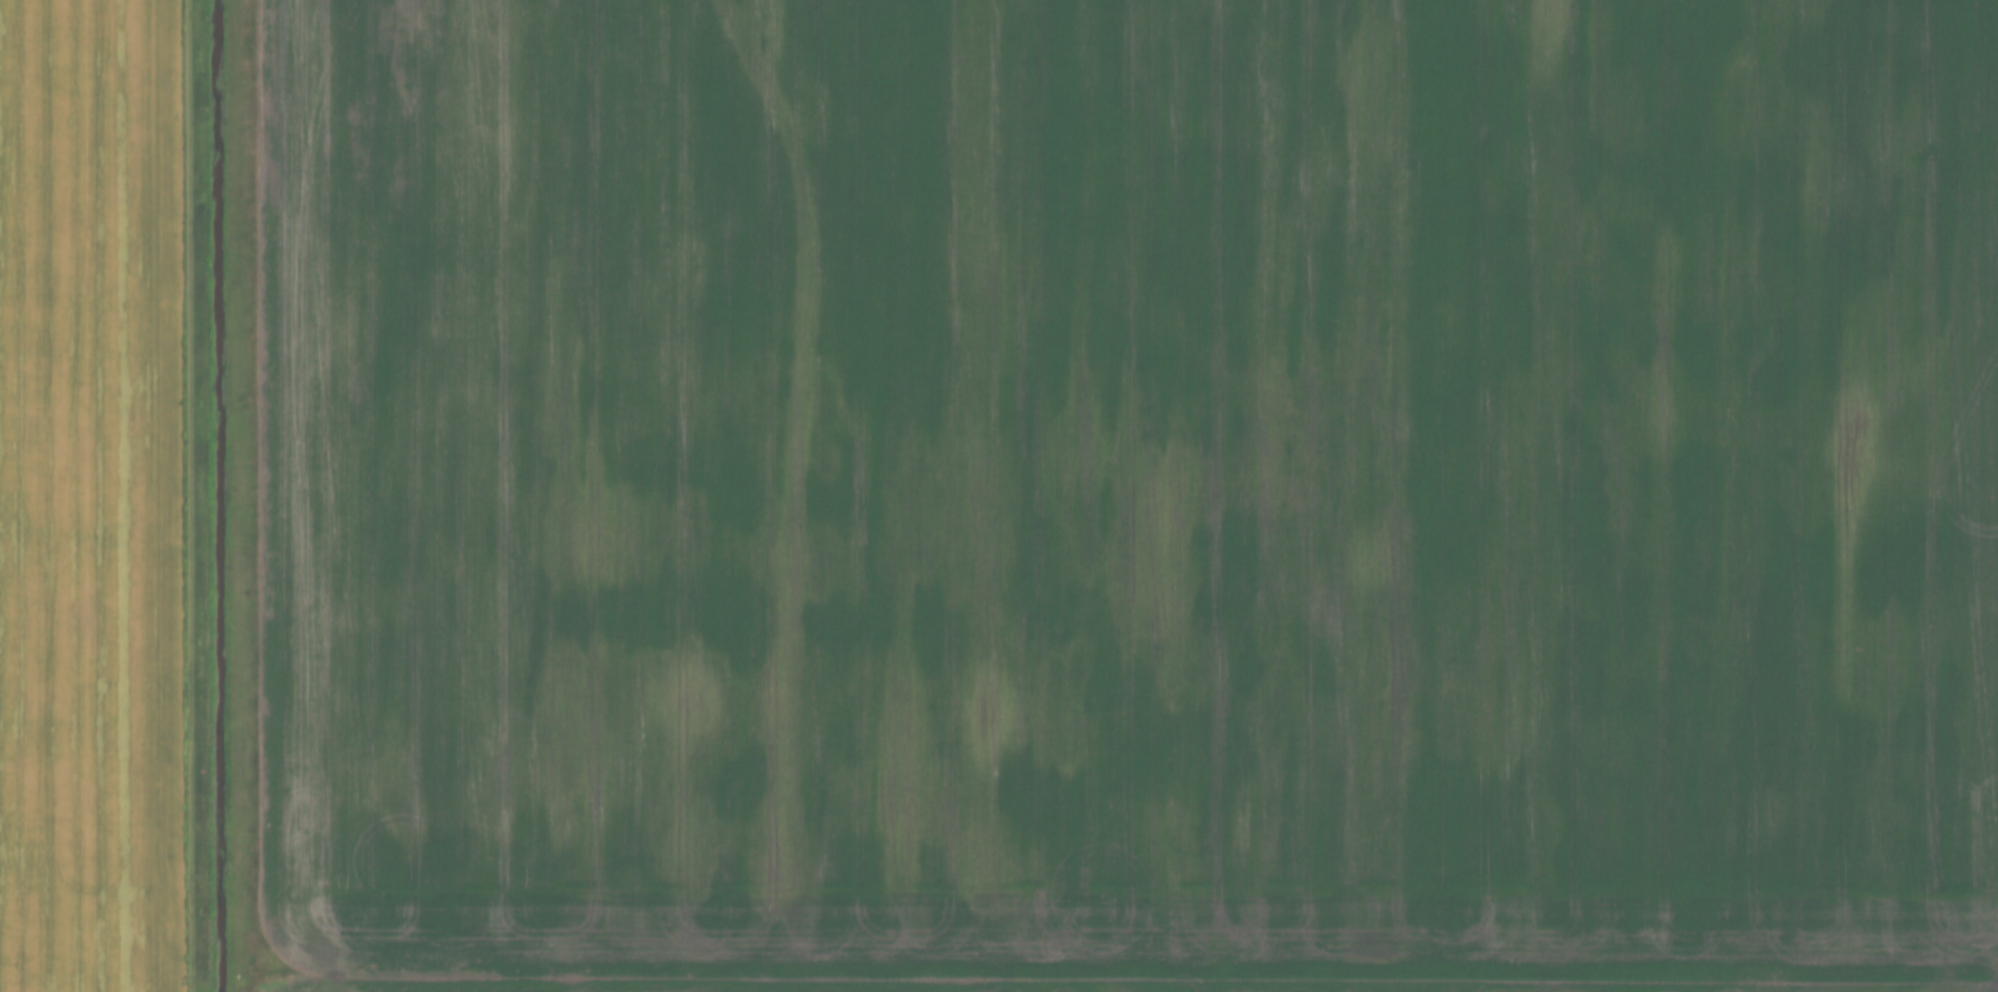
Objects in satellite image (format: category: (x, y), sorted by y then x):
road: (187, 496)
crop: (90, 497)

